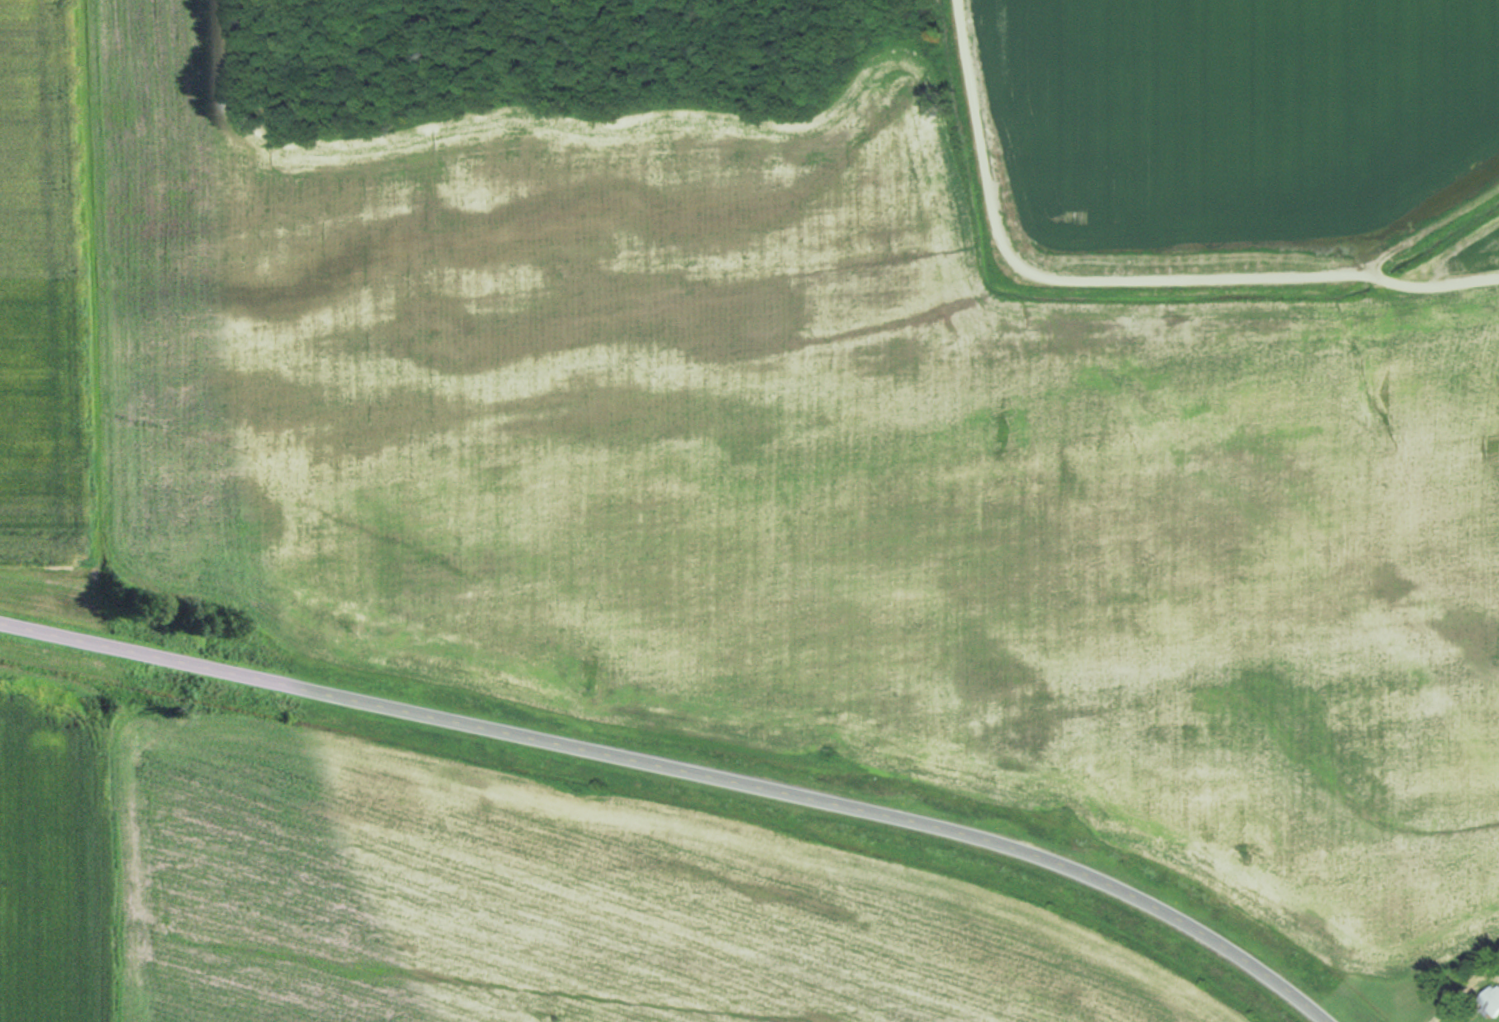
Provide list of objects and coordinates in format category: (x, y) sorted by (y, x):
road: (686, 768)
road: (1466, 987)
building: (1492, 1000)

